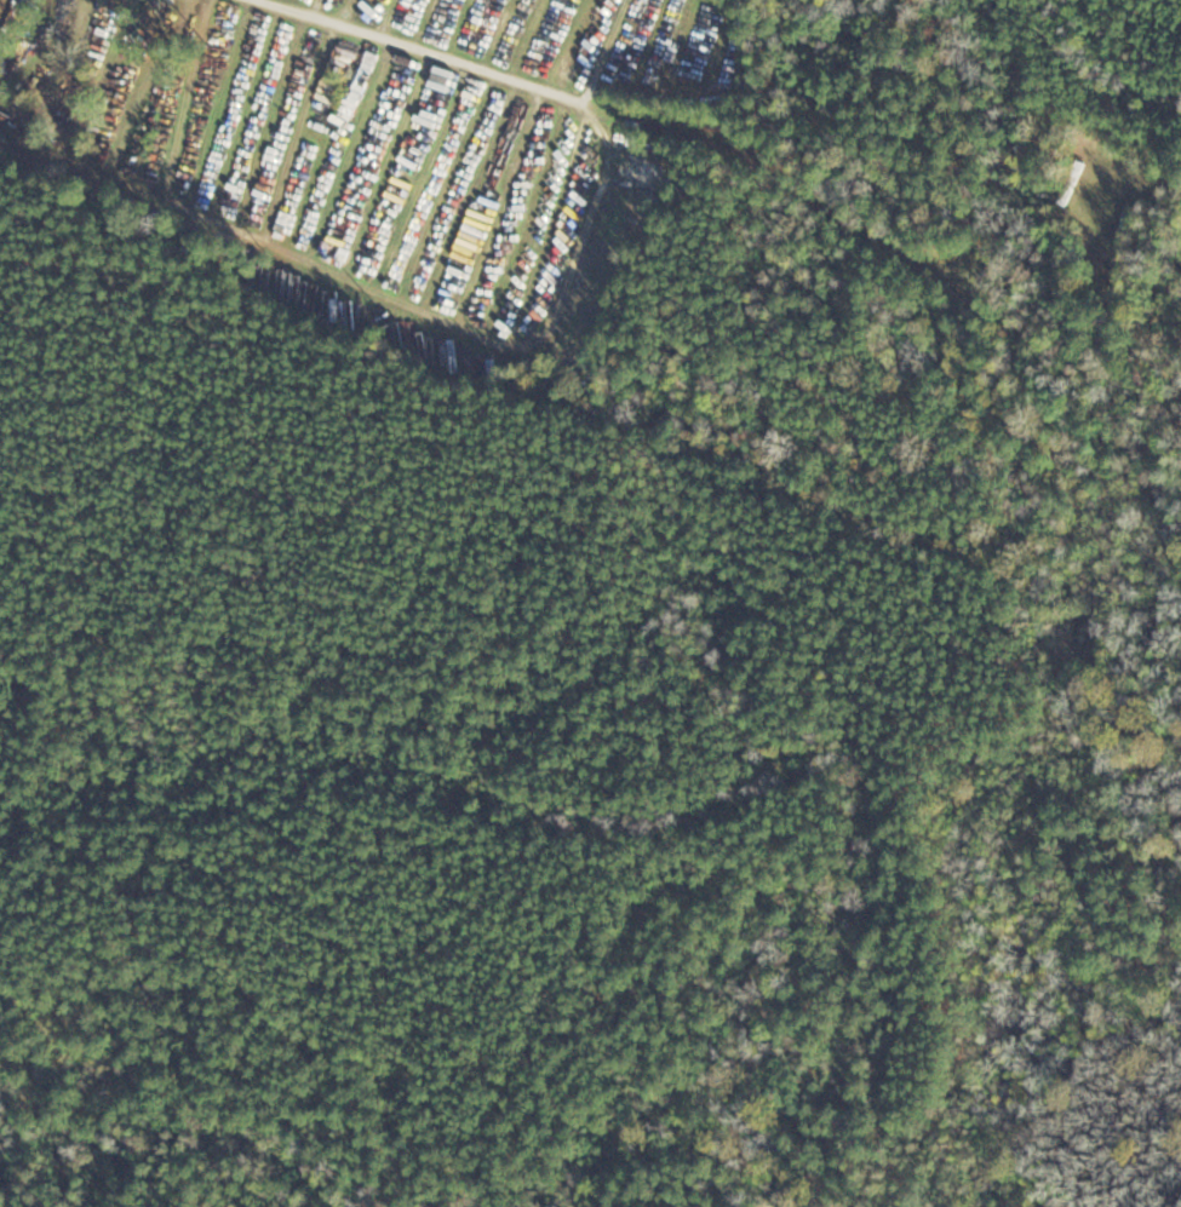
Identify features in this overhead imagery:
building: (1134, 224)

